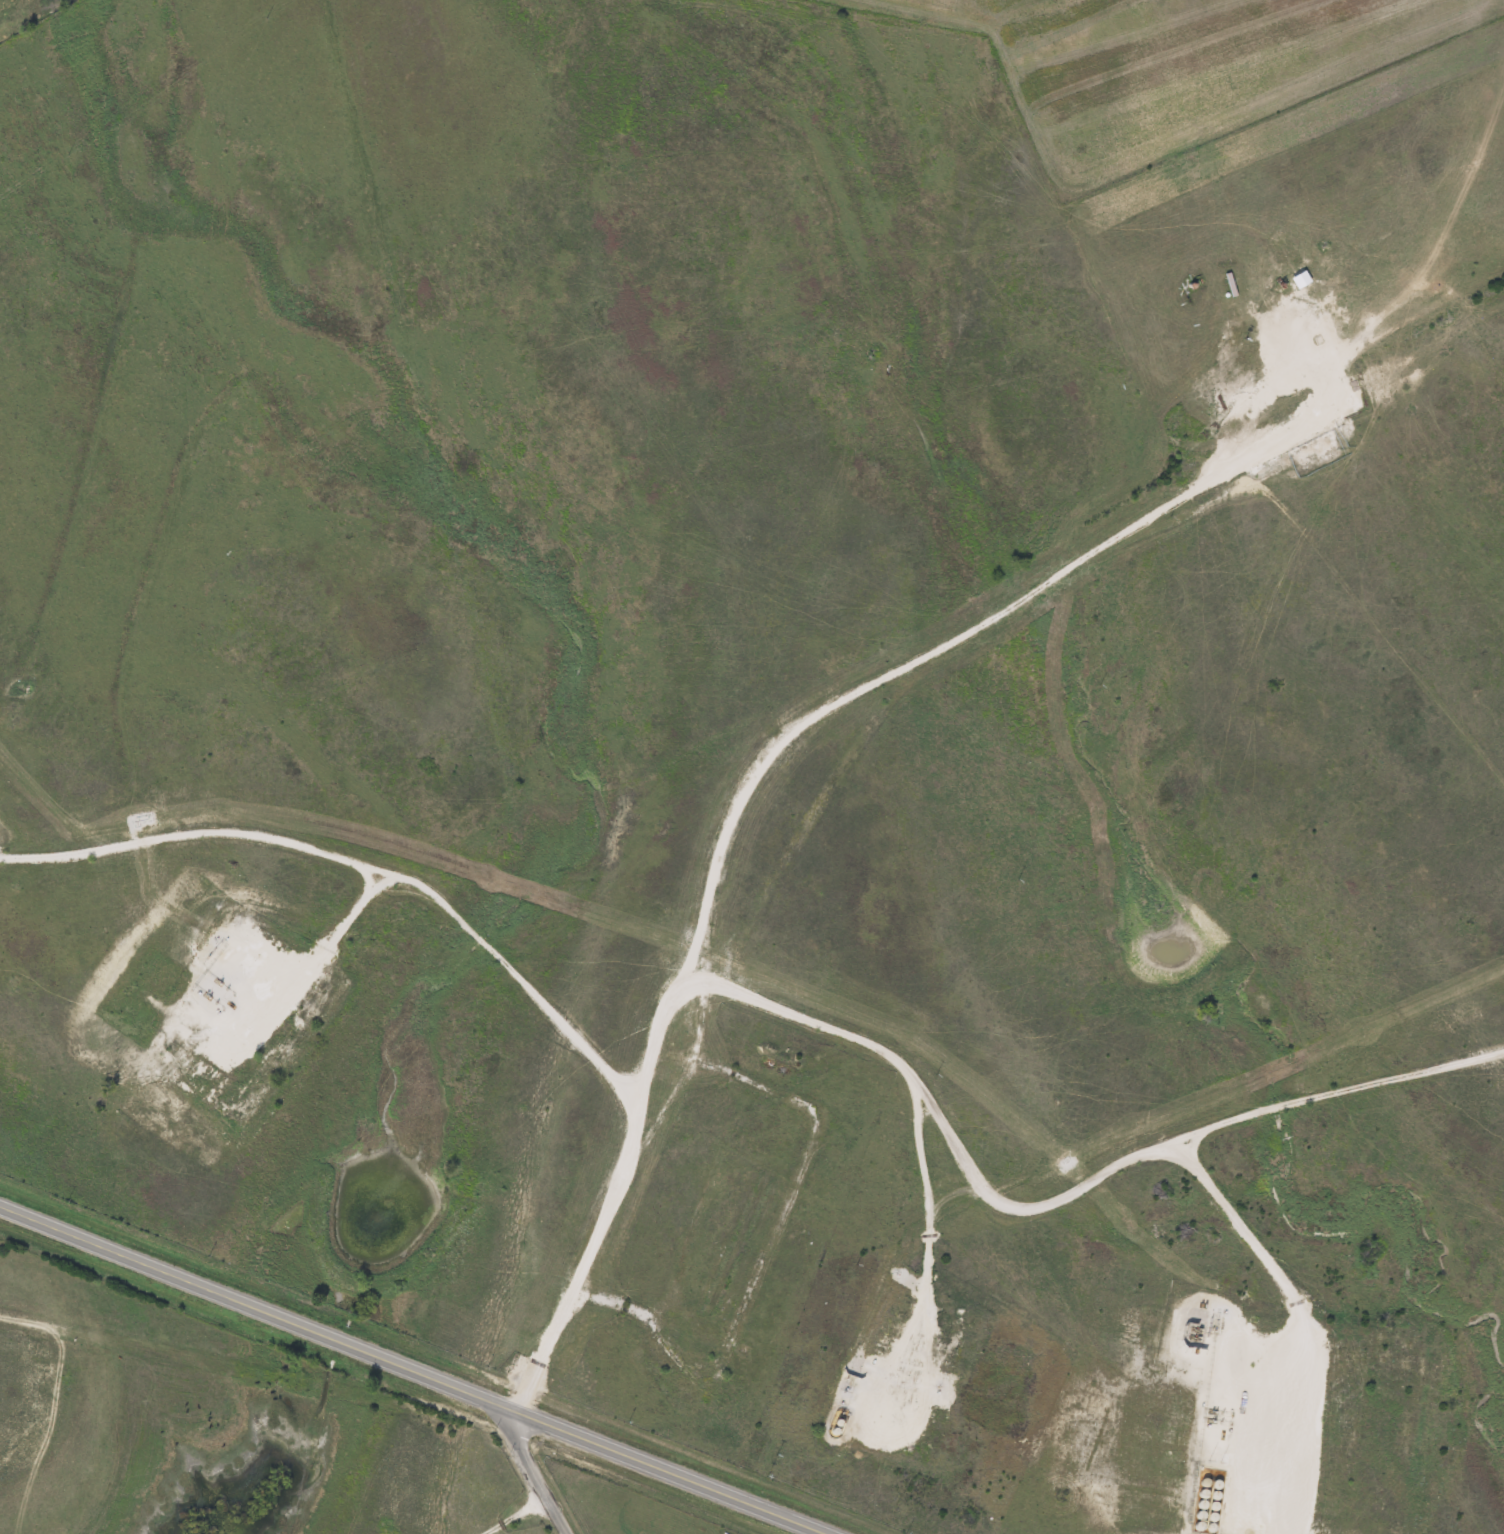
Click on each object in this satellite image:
road: (751, 776)
road: (363, 865)
road: (1058, 1202)
road: (925, 1236)
road: (1279, 1276)
road: (406, 1369)
road: (525, 1475)

